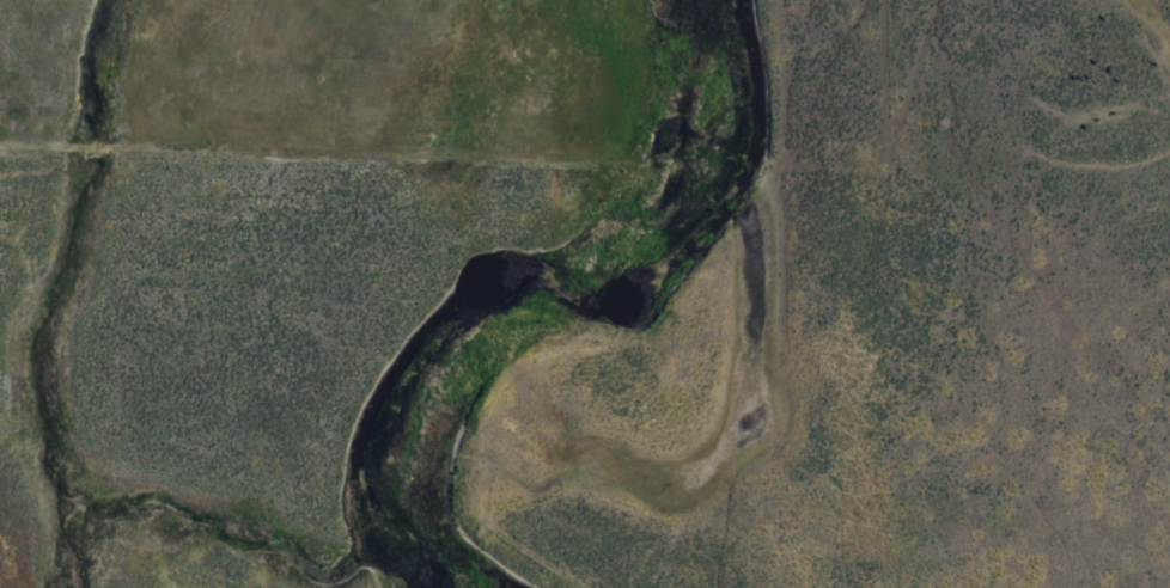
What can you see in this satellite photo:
crop: (585, 294)

